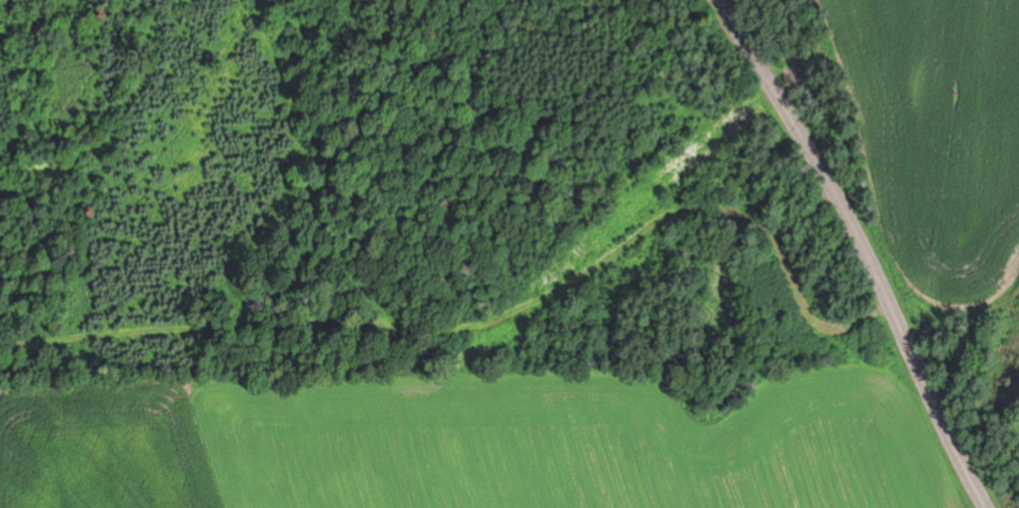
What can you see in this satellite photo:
road: (866, 248)

